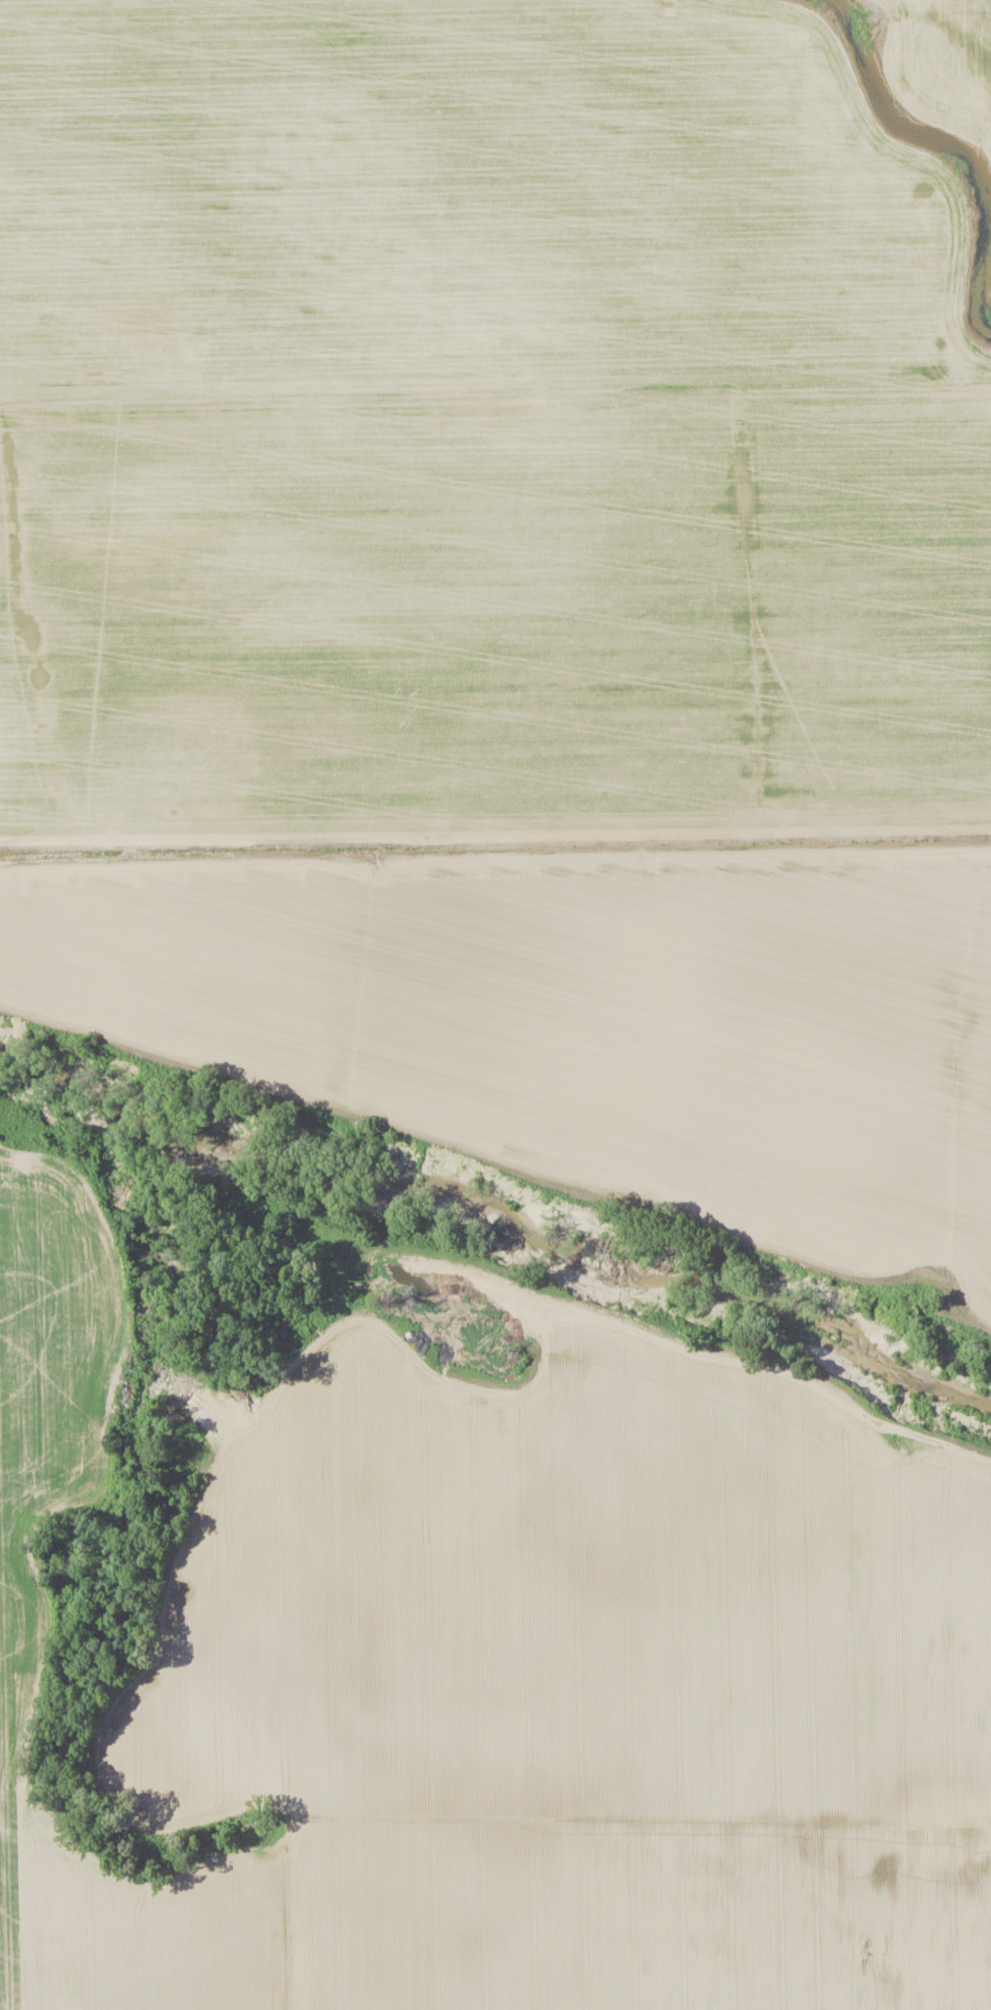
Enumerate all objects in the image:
road: (975, 1896)

